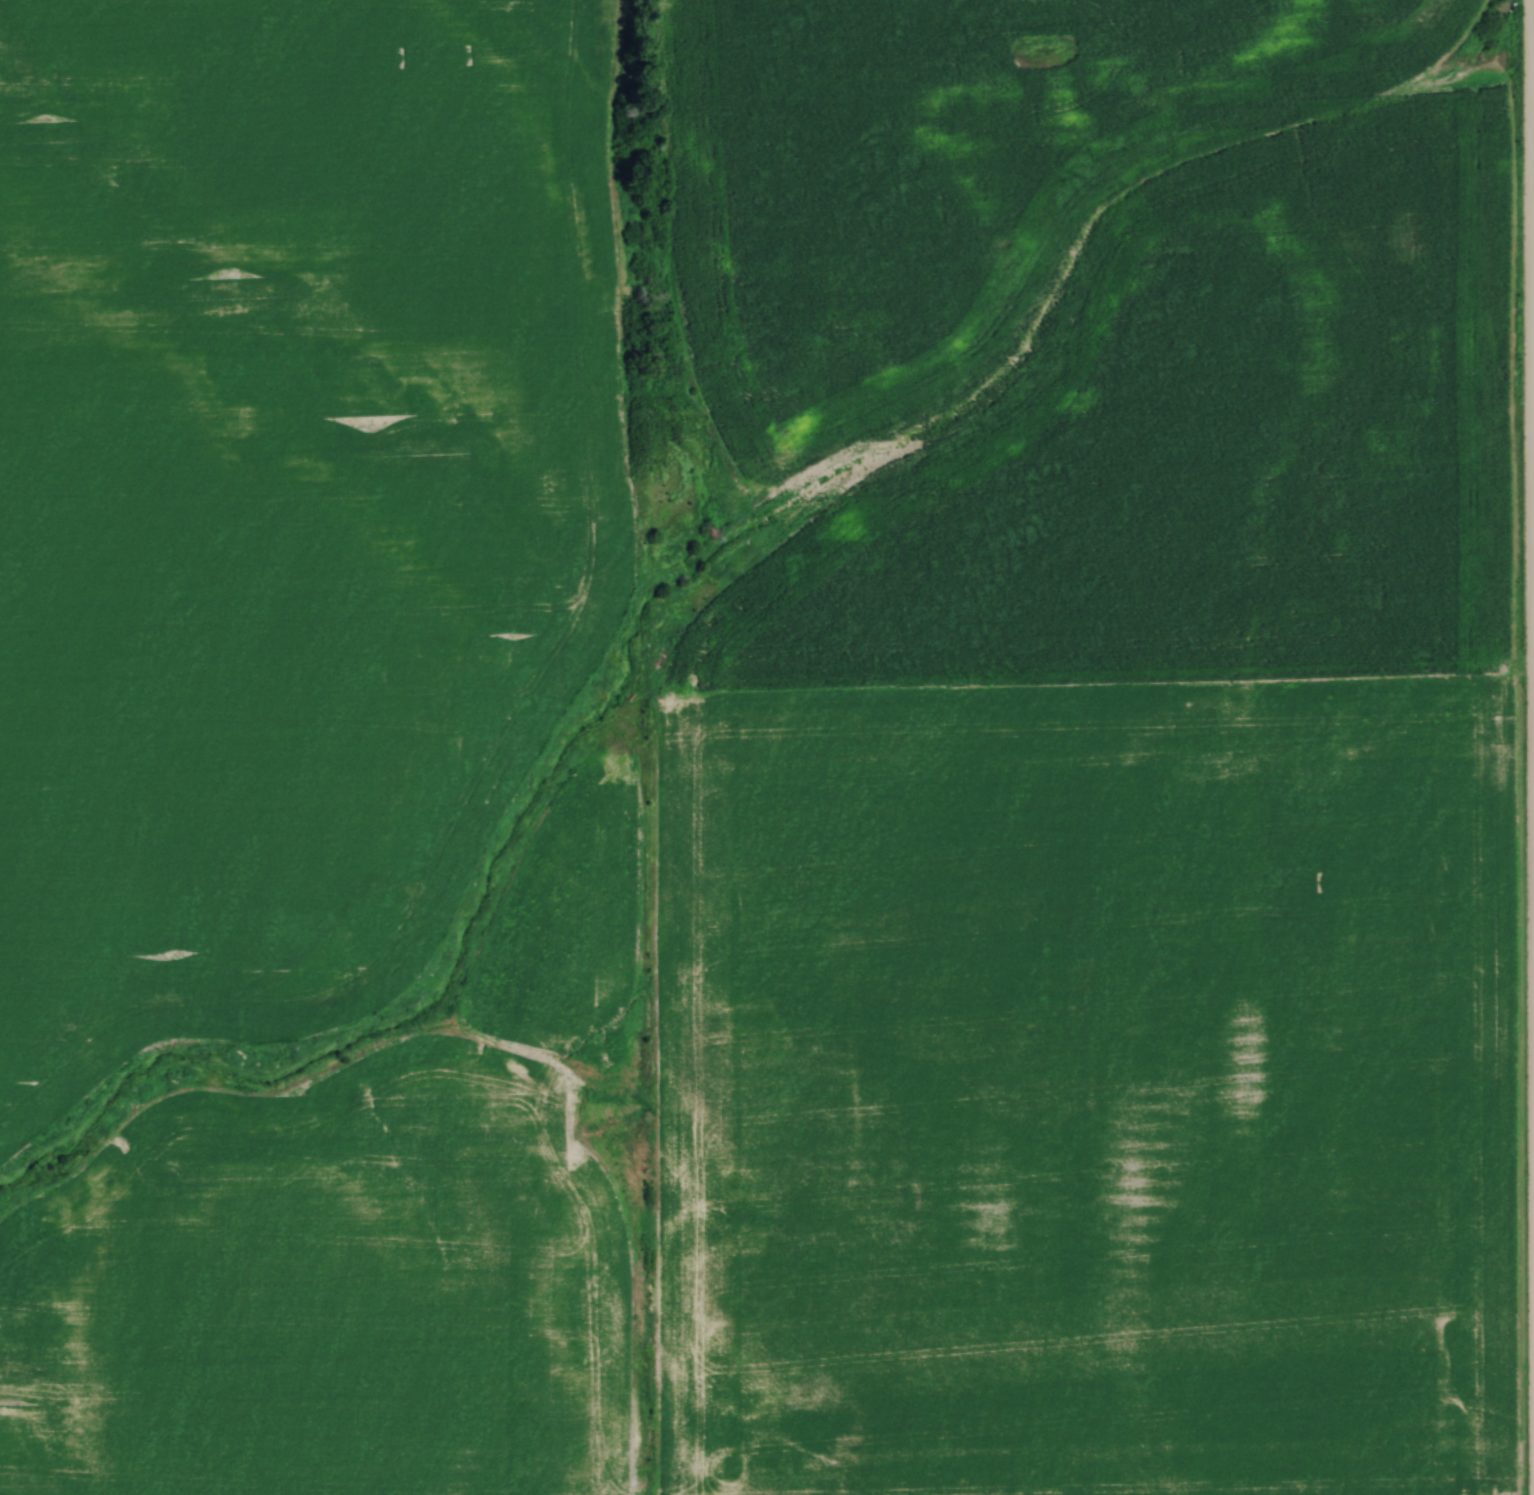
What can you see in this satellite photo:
road: (1531, 642)

